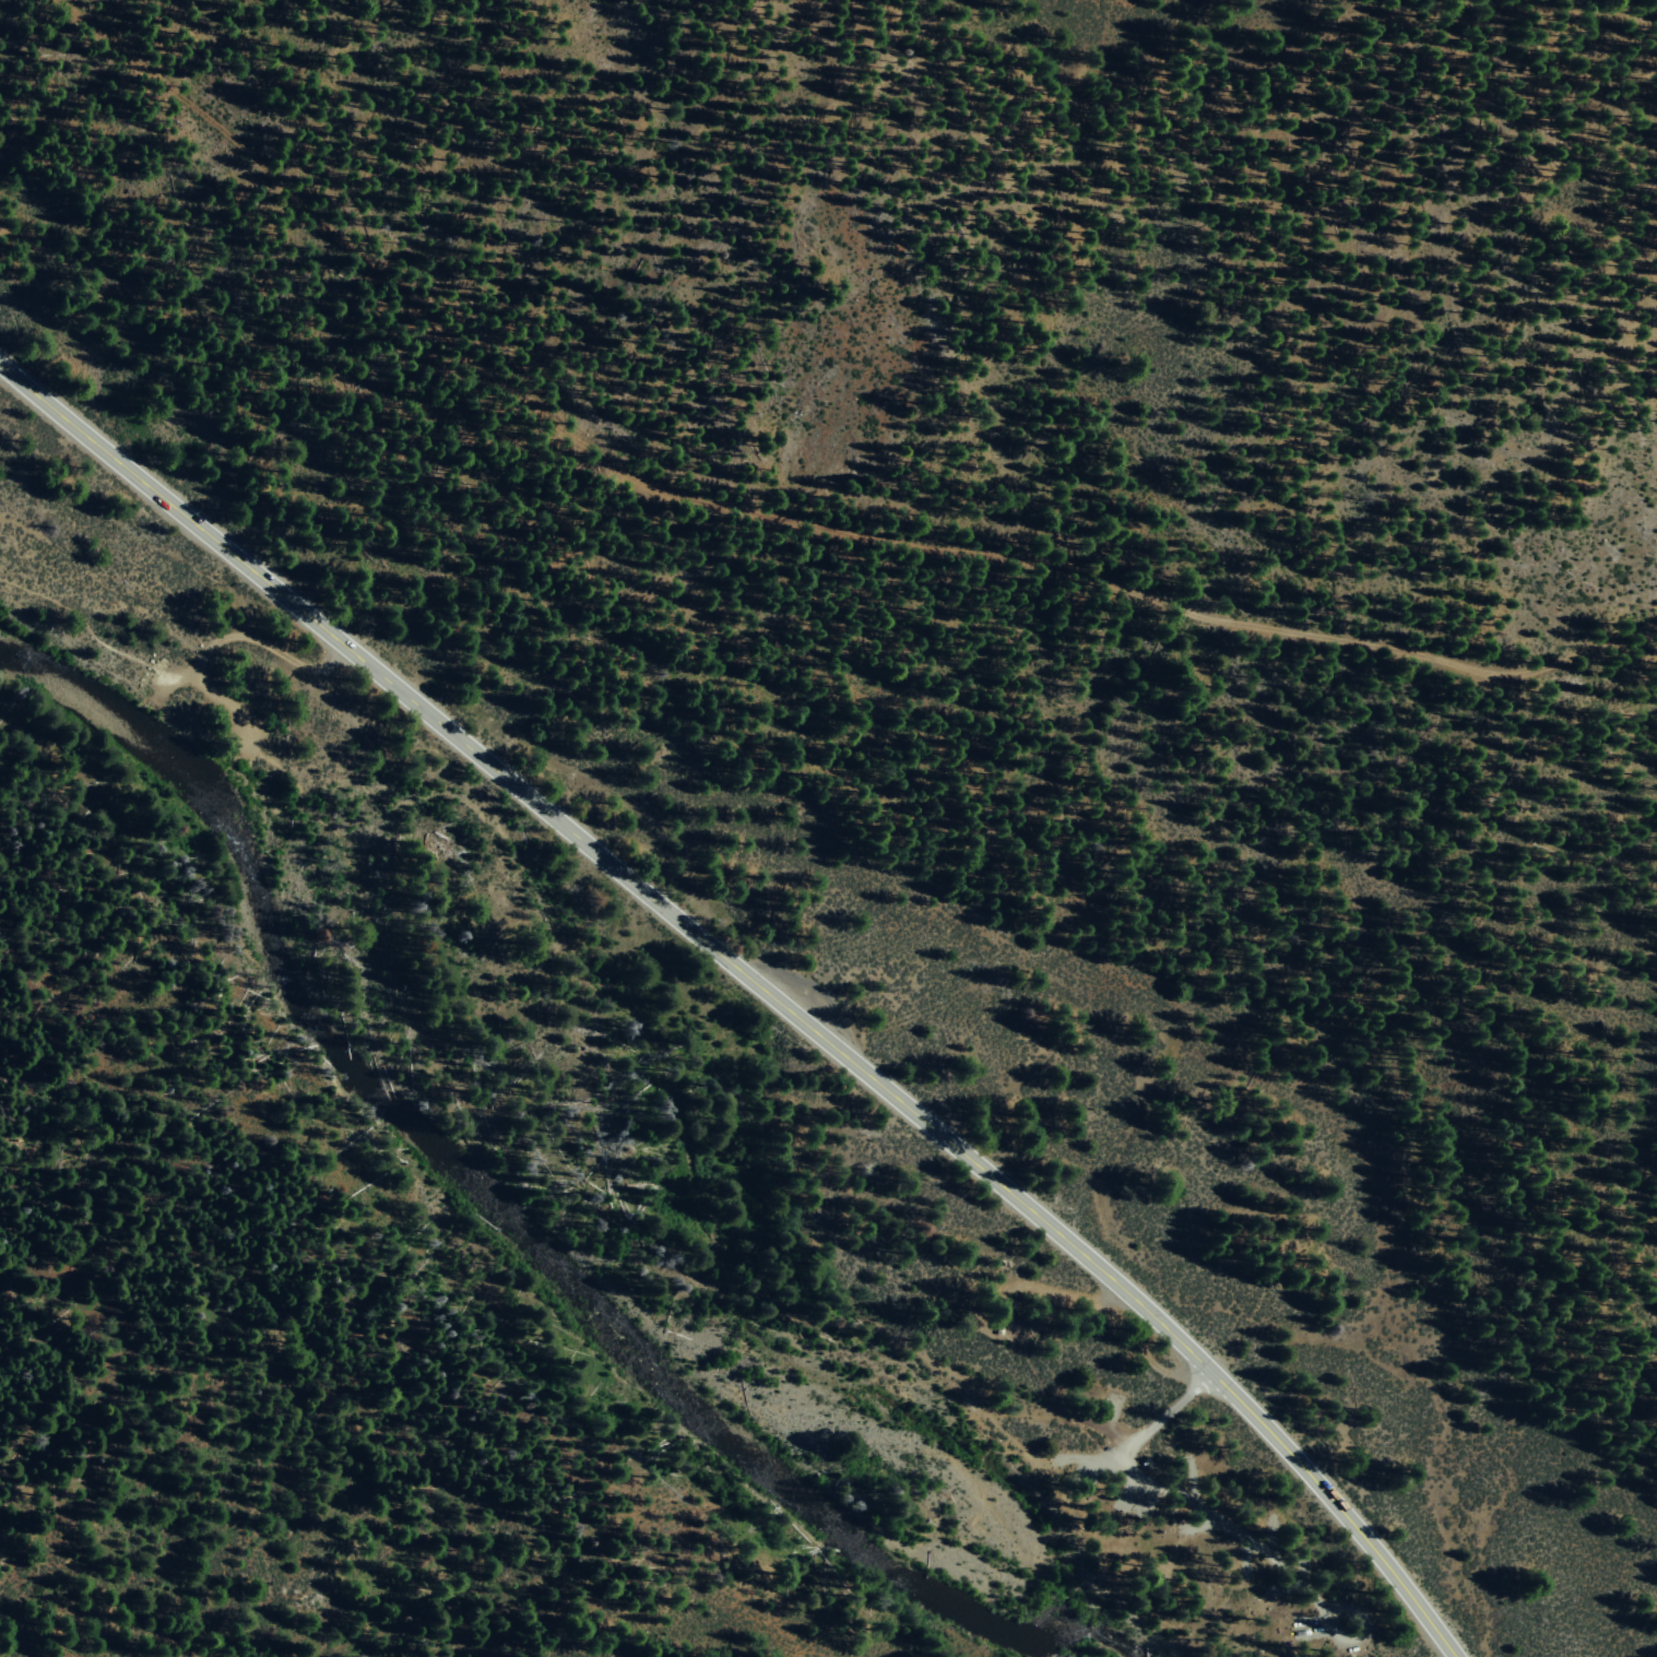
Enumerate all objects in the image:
road: (304, 209)
road: (1102, 556)
road: (93, 636)
road: (218, 639)
road: (754, 981)
river: (498, 1217)
road: (725, 1281)
road: (1164, 1415)
road: (1279, 1566)

